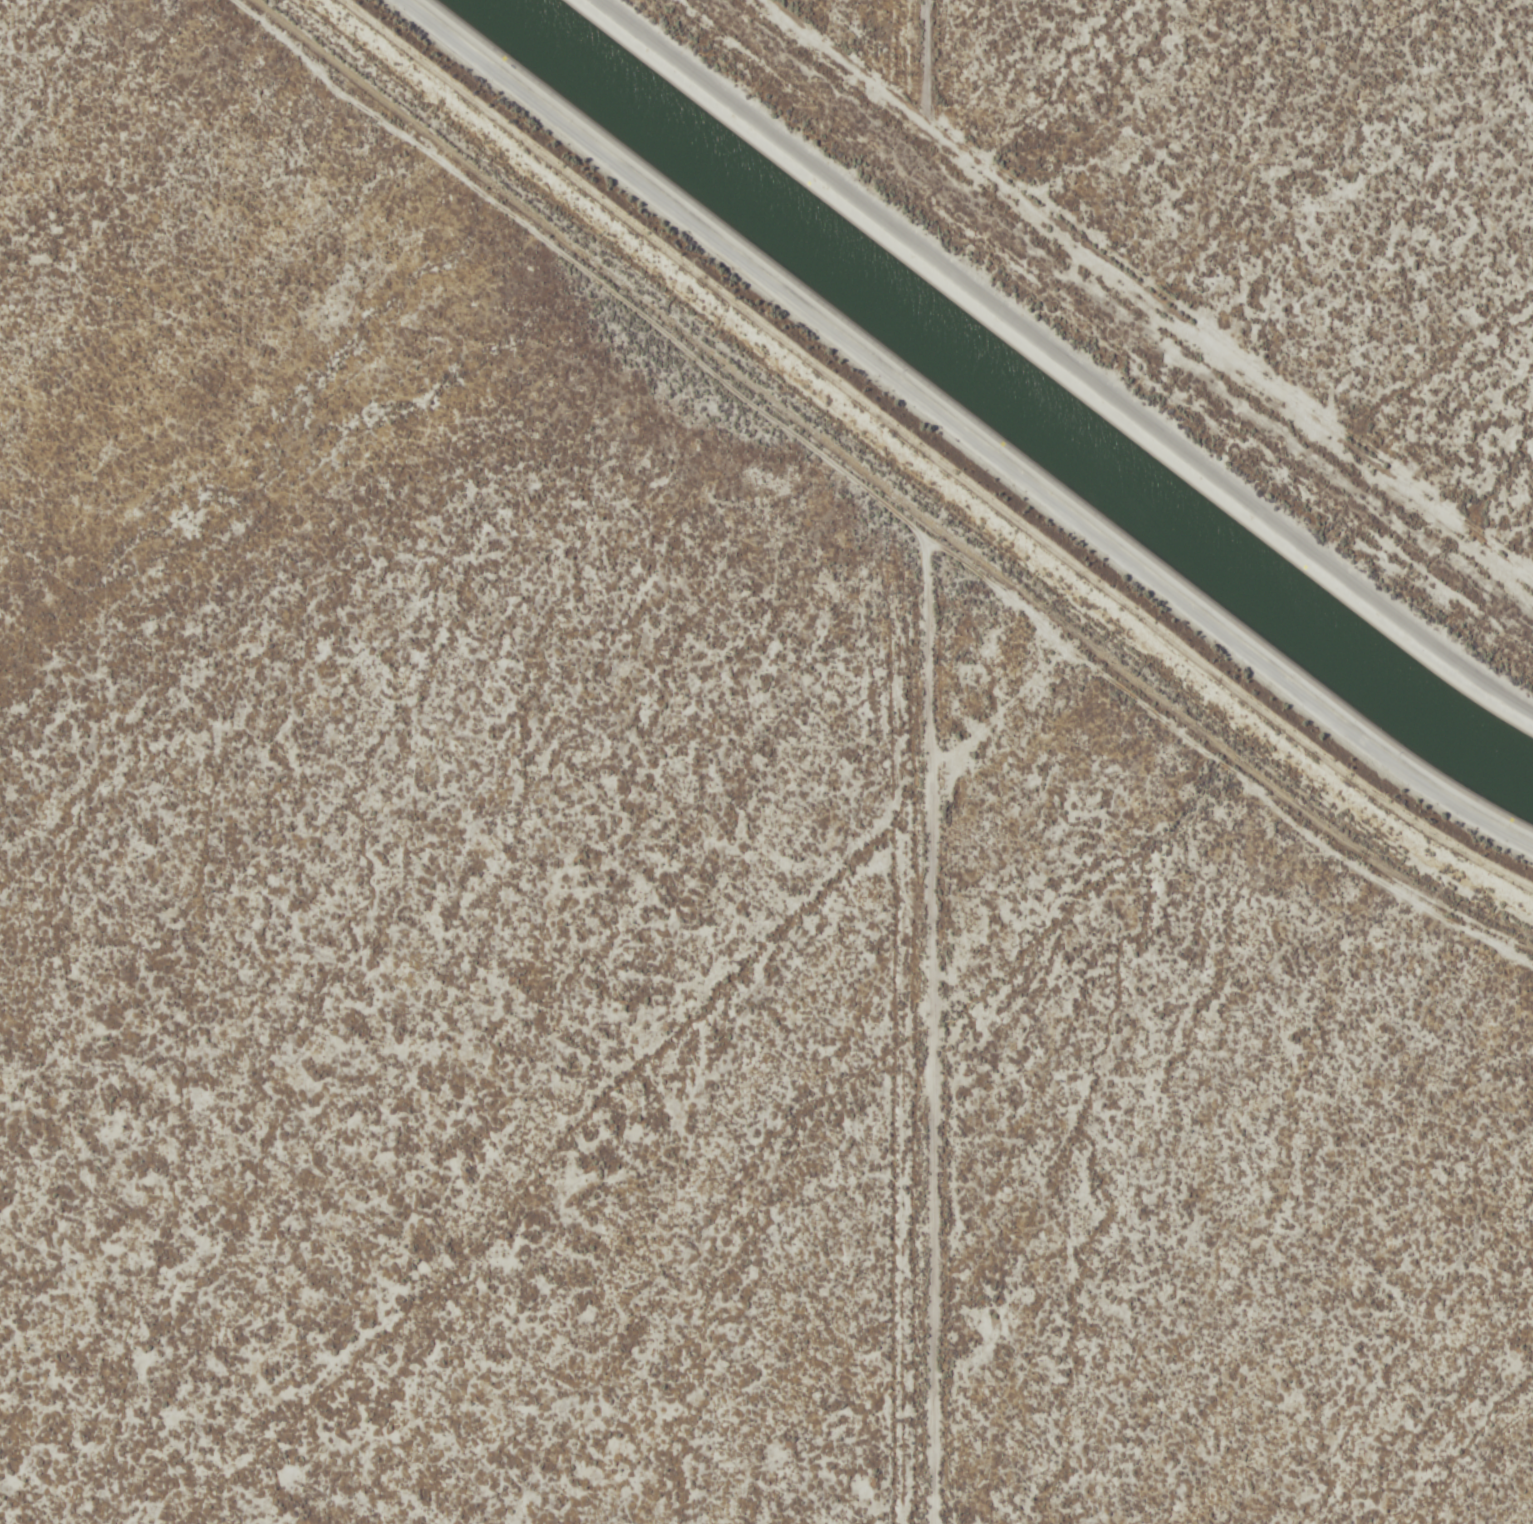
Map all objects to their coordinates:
road: (907, 117)
crop: (1295, 184)
road: (1062, 360)
road: (914, 611)
road: (1220, 709)

